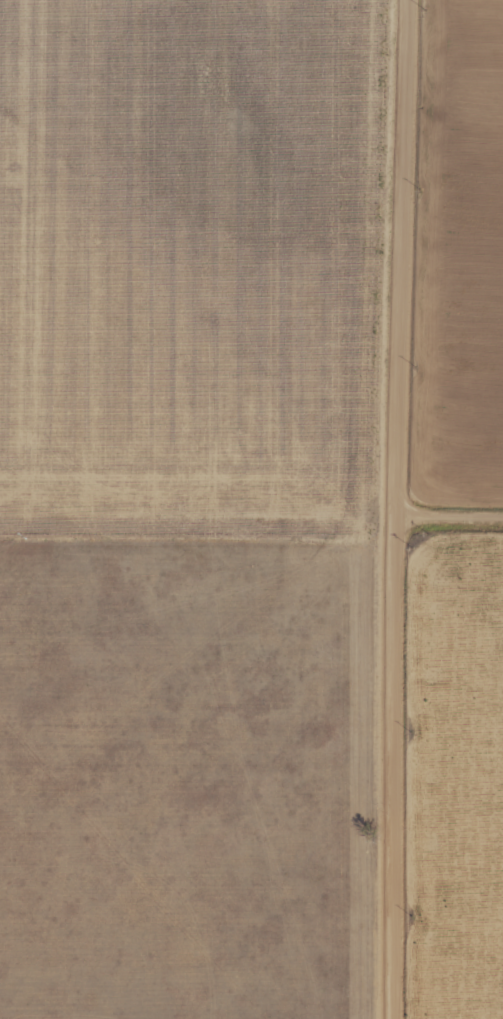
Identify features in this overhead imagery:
road: (409, 509)
road: (456, 542)

